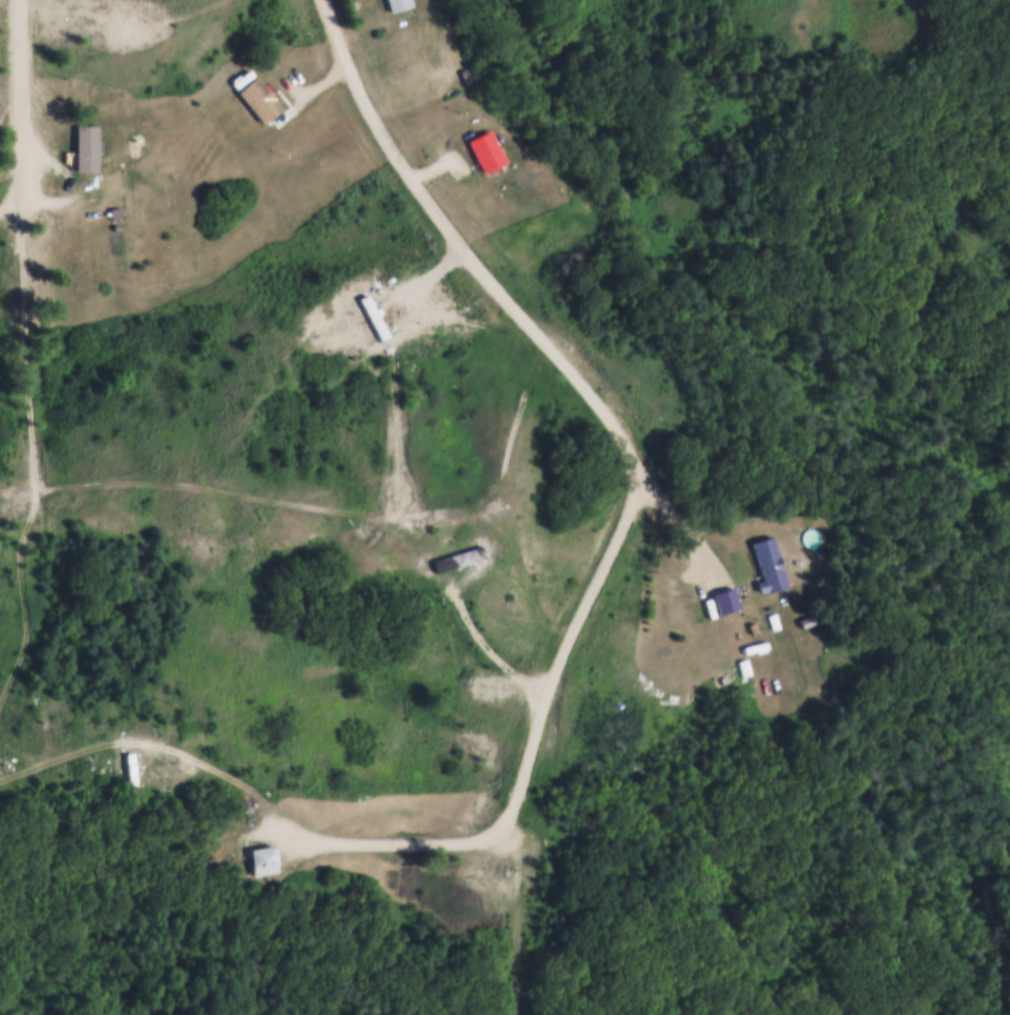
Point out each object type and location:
building: (45, 0)
building: (396, 3)
road: (130, 29)
building: (257, 97)
road: (25, 98)
building: (84, 145)
building: (487, 148)
road: (11, 204)
building: (523, 204)
building: (115, 210)
building: (561, 236)
road: (25, 345)
road: (640, 471)
road: (325, 512)
road: (682, 524)
building: (768, 562)
building: (725, 597)
building: (774, 619)
building: (752, 626)
building: (723, 669)
building: (127, 765)
road: (307, 836)
building: (262, 858)

